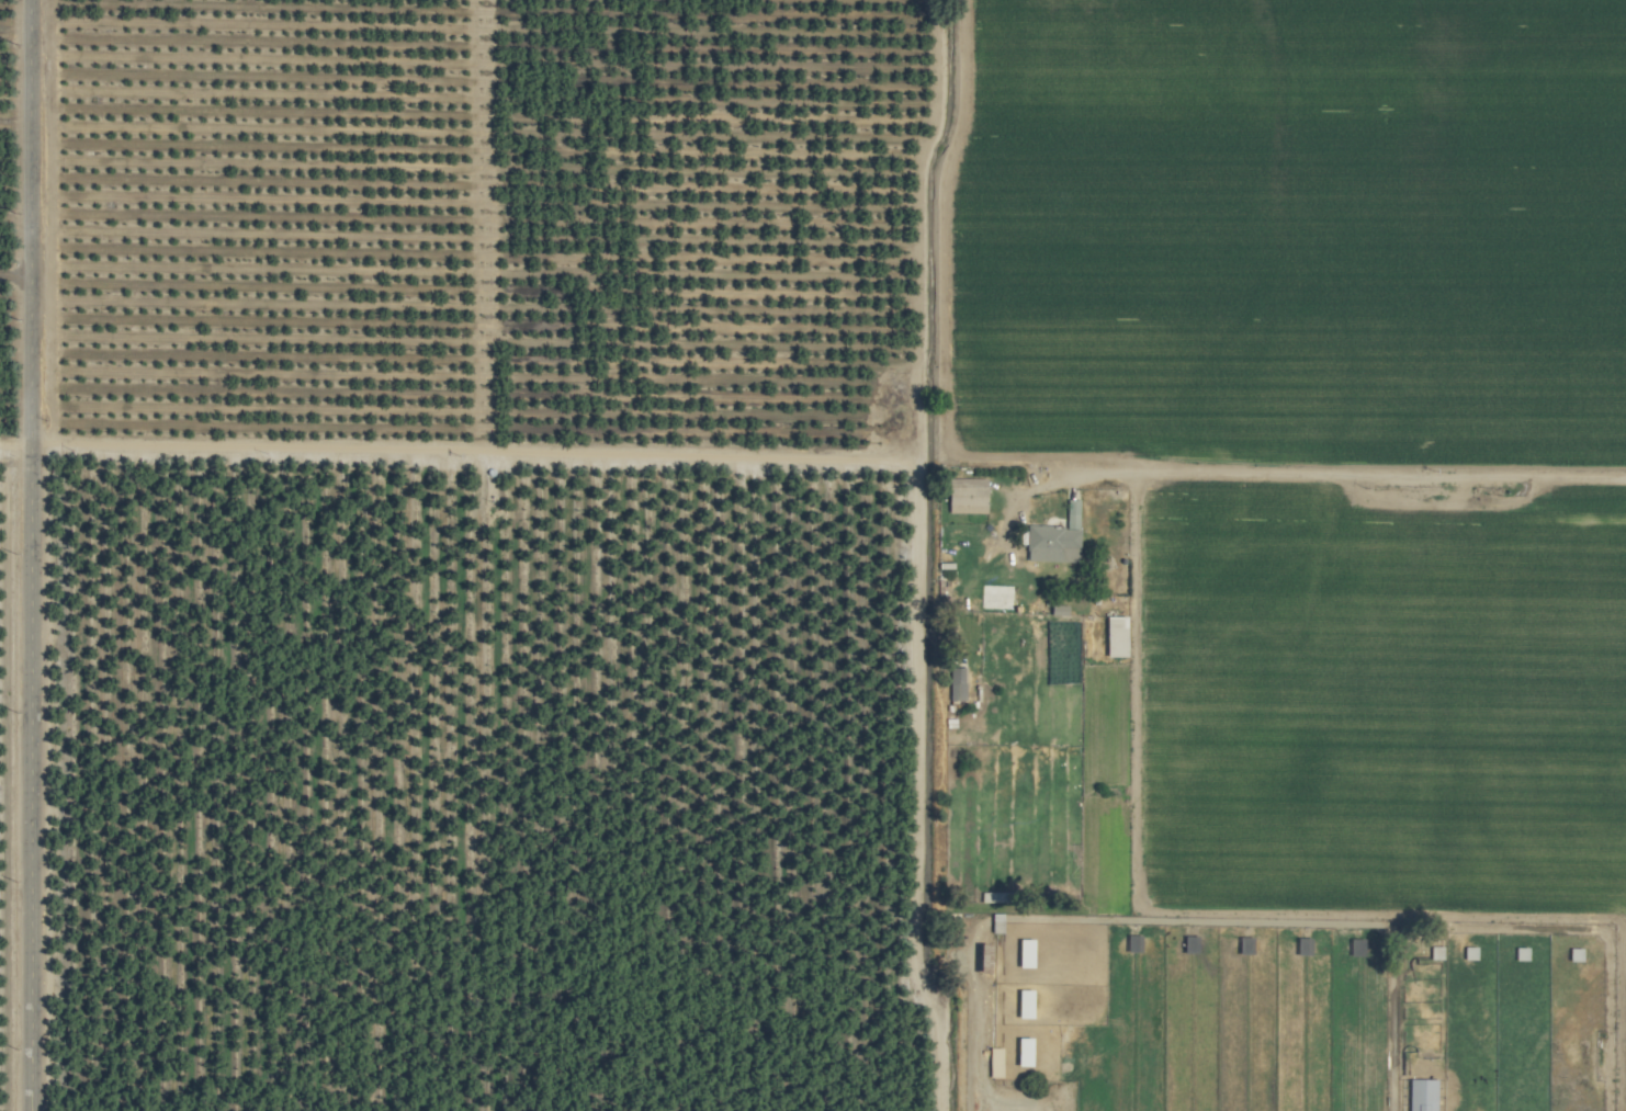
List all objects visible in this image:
road: (18, 273)
road: (16, 441)
road: (829, 454)
building: (963, 495)
building: (1052, 539)
road: (33, 555)
crop: (813, 555)
building: (1055, 610)
building: (1113, 636)
building: (955, 683)
building: (1021, 953)
building: (1433, 953)
building: (1467, 953)
building: (1518, 953)
building: (1572, 954)
building: (1021, 1004)
building: (1020, 1052)
building: (992, 1062)
building: (1420, 1095)

